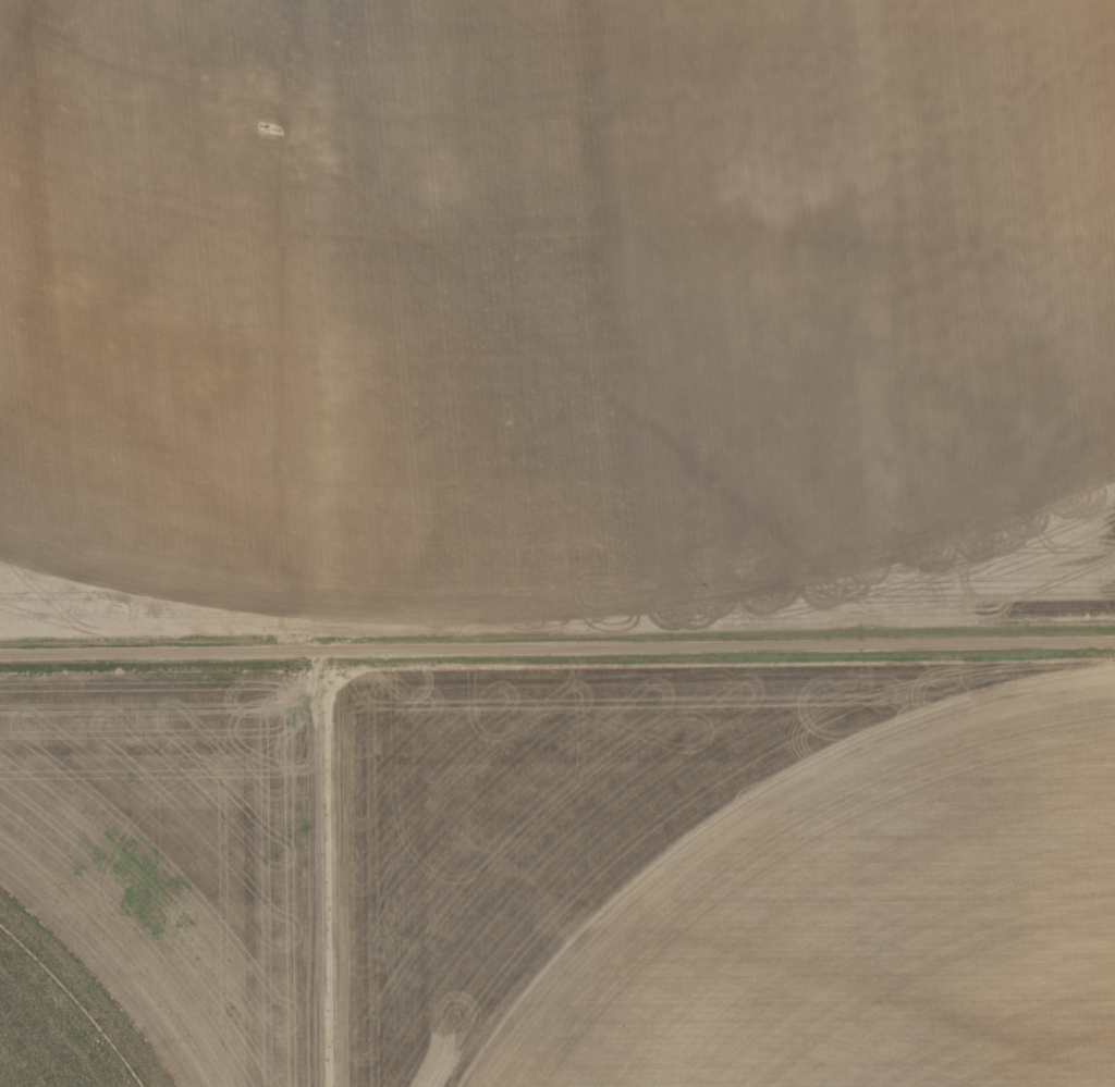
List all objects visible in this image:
road: (556, 644)
crop: (909, 967)

